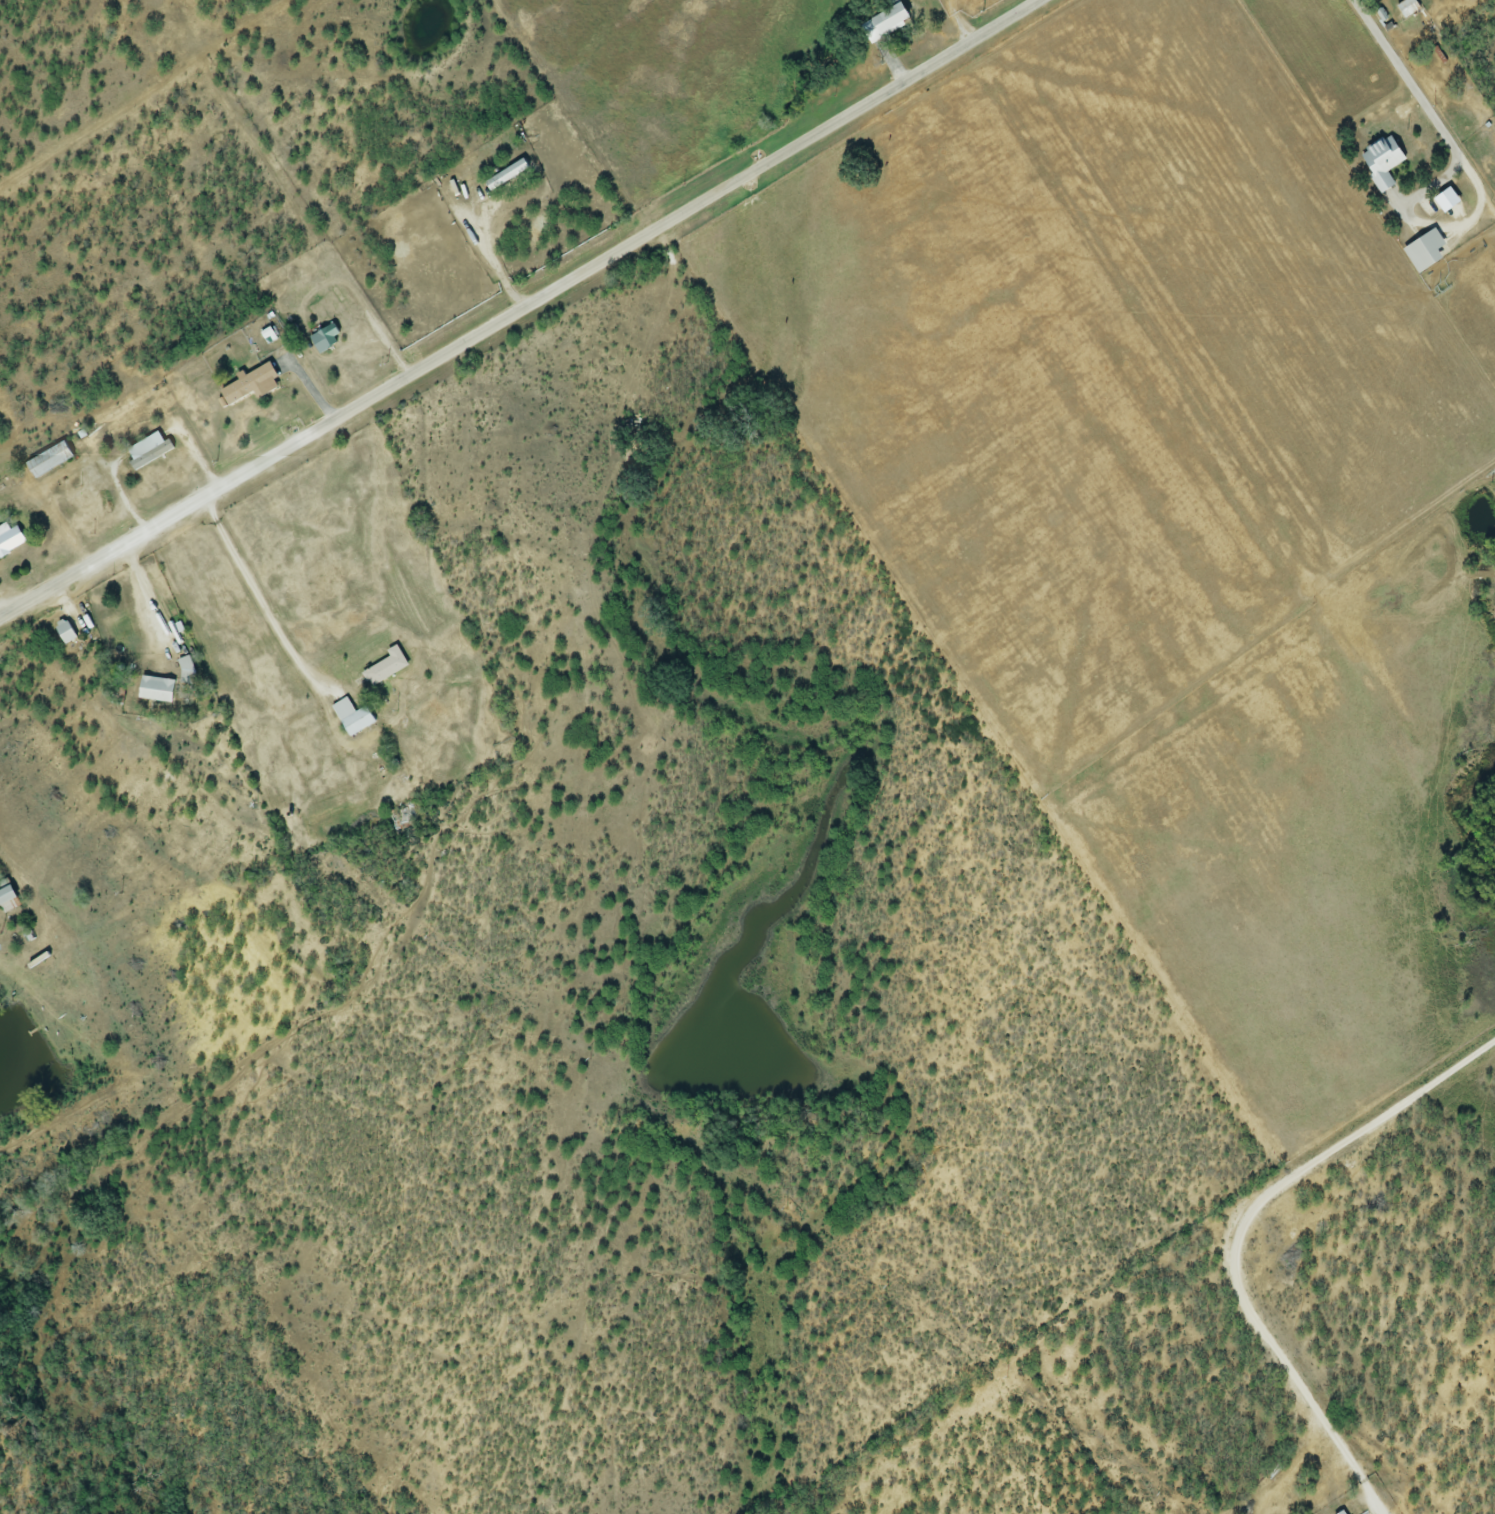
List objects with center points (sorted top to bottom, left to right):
building: (1405, 8)
road: (1427, 109)
building: (1378, 163)
road: (733, 181)
building: (1421, 252)
building: (142, 447)
building: (45, 461)
road: (217, 488)
building: (9, 540)
road: (259, 597)
building: (62, 632)
building: (184, 669)
building: (154, 690)
building: (349, 718)
road: (67, 954)
road: (0, 965)
road: (1378, 1122)
road: (1271, 1346)
road: (1373, 1498)
building: (1340, 1512)

